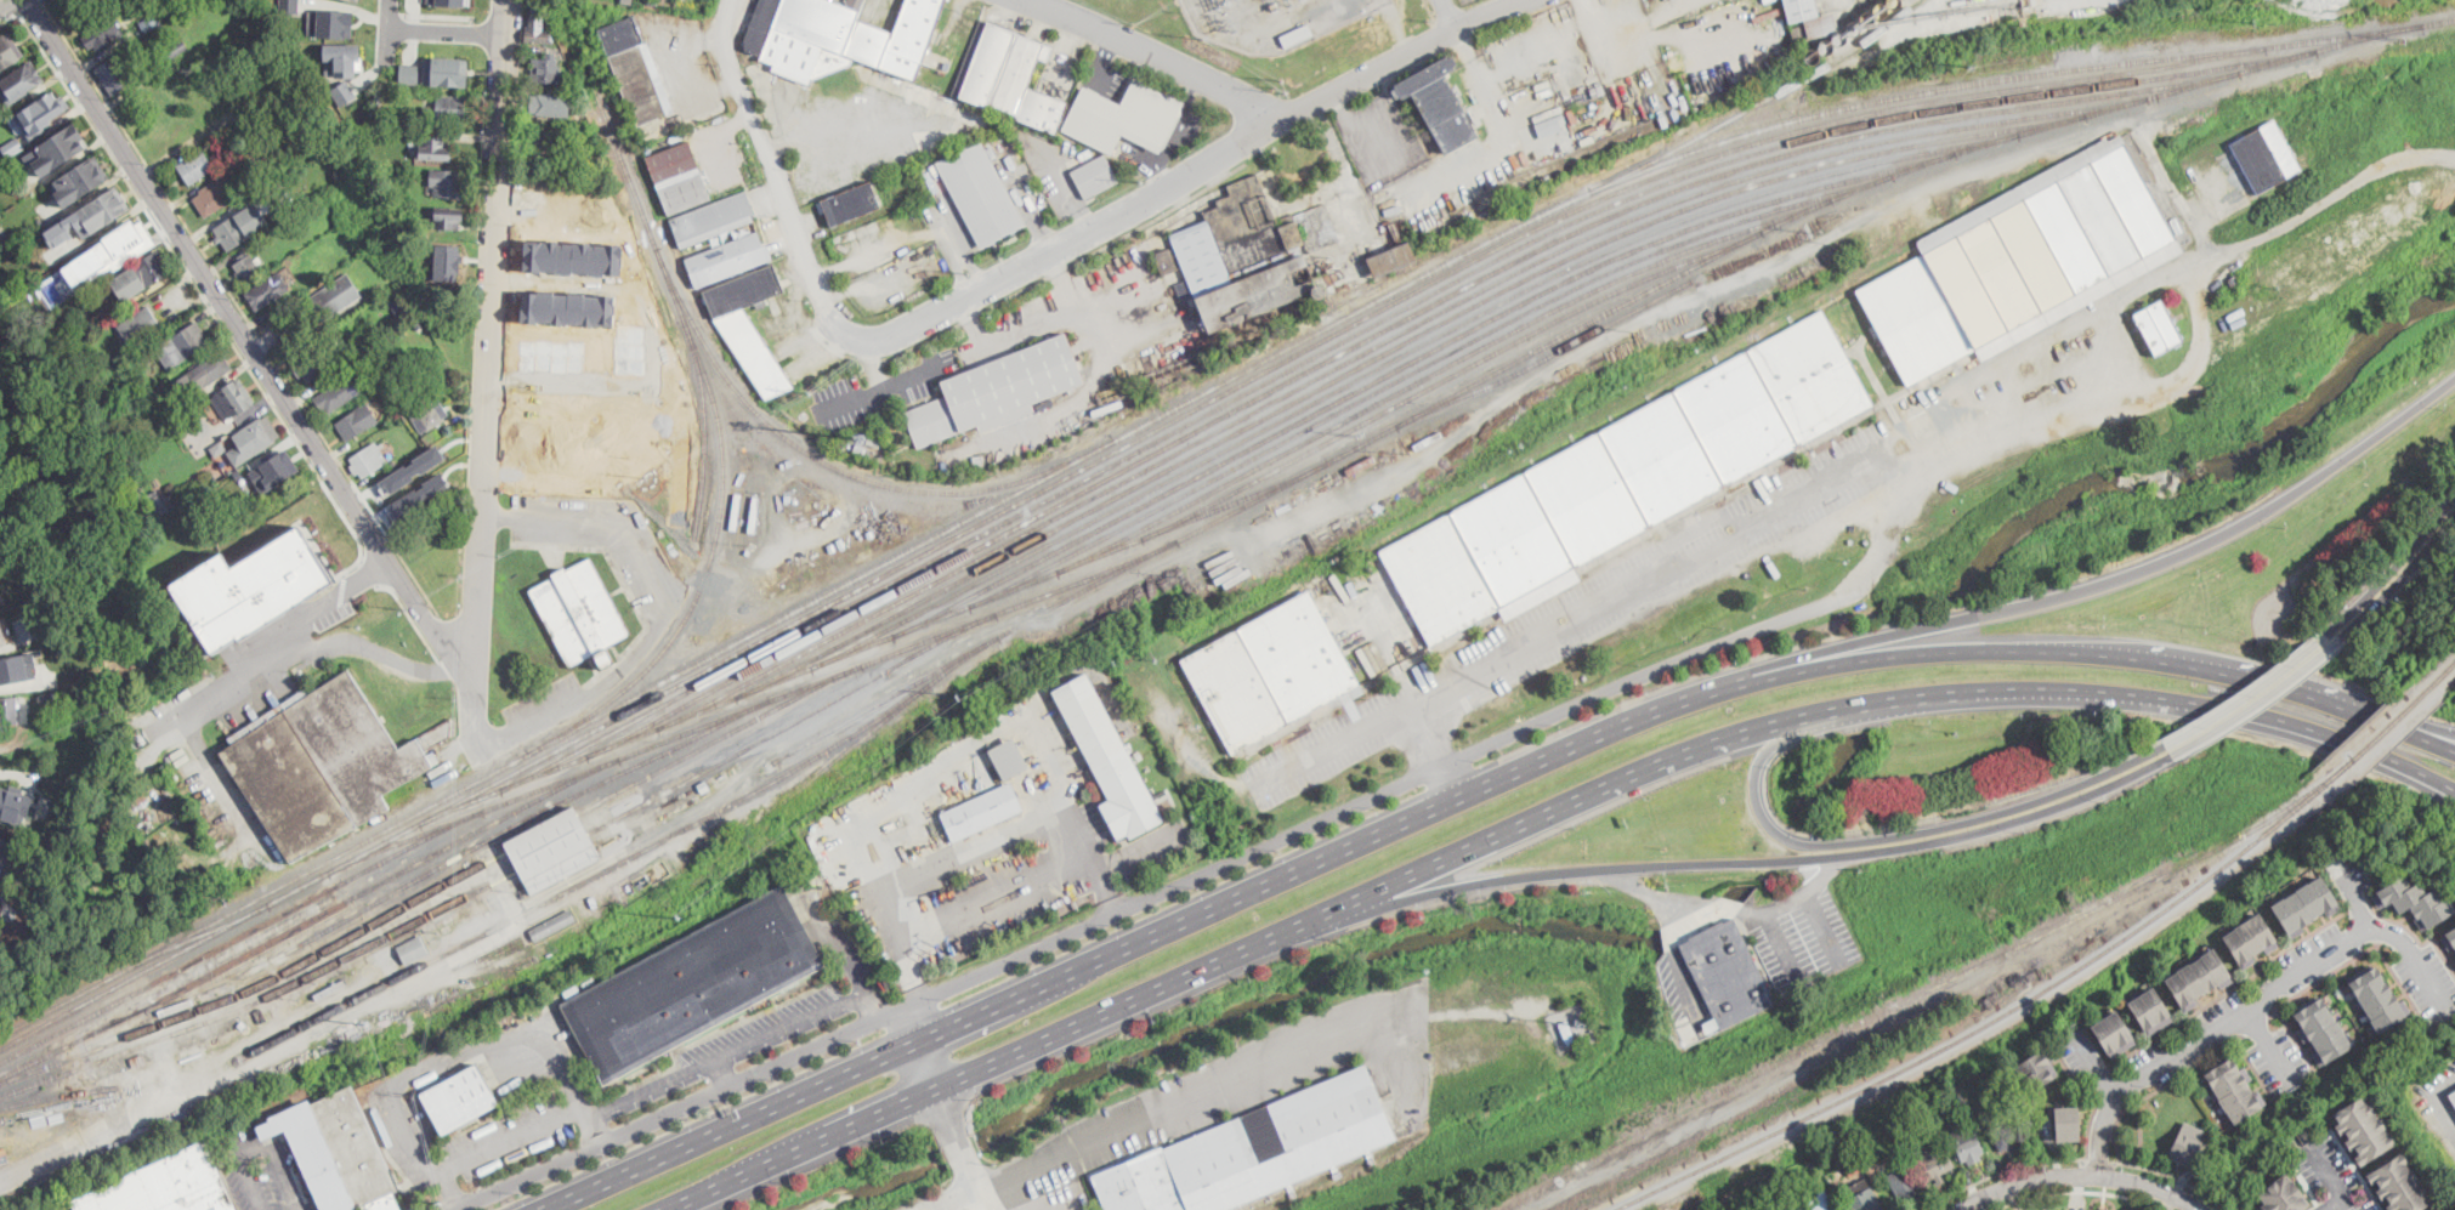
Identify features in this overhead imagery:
road: (41, 0)
building: (357, 0)
building: (110, 1)
building: (448, 1)
building: (628, 1)
building: (653, 1)
building: (854, 4)
road: (8, 5)
building: (289, 5)
road: (16, 6)
road: (30, 7)
building: (97, 11)
road: (1430, 11)
building: (2022, 12)
road: (1451, 13)
road: (437, 15)
building: (87, 16)
road: (10, 21)
building: (151, 22)
building: (330, 23)
building: (760, 24)
building: (1827, 24)
building: (538, 29)
road: (386, 30)
road: (447, 30)
building: (103, 33)
building: (1295, 35)
building: (911, 36)
building: (809, 38)
building: (867, 41)
building: (181, 47)
building: (7, 53)
building: (342, 58)
road: (1101, 59)
building: (987, 63)
building: (546, 68)
building: (216, 69)
building: (446, 70)
building: (119, 72)
building: (636, 72)
building: (410, 73)
building: (1017, 73)
building: (19, 80)
building: (344, 91)
building: (406, 93)
building: (379, 96)
railway: (1768, 101)
building: (300, 103)
building: (1439, 103)
building: (548, 106)
building: (447, 108)
building: (1042, 109)
building: (42, 112)
building: (1123, 115)
road: (1275, 117)
building: (331, 123)
building: (376, 129)
road: (1351, 130)
road: (1502, 132)
building: (256, 138)
building: (316, 140)
building: (546, 142)
building: (341, 144)
building: (283, 147)
building: (12, 148)
building: (56, 148)
building: (433, 148)
building: (2266, 157)
road: (764, 159)
building: (2042, 161)
building: (195, 167)
building: (259, 174)
building: (1095, 176)
building: (679, 178)
building: (80, 180)
building: (447, 182)
road: (1067, 183)
building: (19, 188)
building: (980, 193)
building: (211, 199)
building: (855, 201)
building: (1941, 208)
building: (89, 216)
building: (447, 217)
building: (711, 221)
building: (240, 225)
road: (168, 242)
road: (1056, 244)
road: (954, 249)
road: (877, 251)
building: (109, 252)
building: (1248, 255)
building: (1393, 259)
building: (726, 260)
building: (447, 261)
building: (1166, 261)
building: (2022, 262)
building: (246, 267)
building: (140, 274)
building: (2233, 280)
road: (1028, 284)
building: (267, 291)
building: (335, 297)
building: (401, 305)
road: (2120, 308)
road: (242, 309)
road: (1088, 316)
building: (93, 320)
building: (749, 325)
building: (140, 326)
building: (2159, 328)
railway: (1366, 330)
road: (1008, 336)
railway: (1368, 340)
road: (250, 342)
railway: (1576, 342)
building: (182, 346)
railway: (1544, 350)
building: (347, 351)
railway: (1380, 357)
railway: (1355, 359)
road: (872, 360)
railway: (1396, 360)
building: (419, 364)
building: (447, 364)
building: (312, 365)
railway: (1406, 367)
road: (488, 371)
railway: (1416, 374)
building: (202, 376)
railway: (1430, 376)
railway: (1440, 384)
road: (878, 387)
building: (997, 391)
building: (336, 393)
building: (231, 399)
railway: (1184, 407)
building: (429, 416)
building: (182, 420)
building: (356, 420)
railway: (705, 426)
building: (101, 433)
building: (431, 434)
railway: (722, 436)
building: (255, 437)
building: (1428, 439)
building: (873, 442)
building: (219, 449)
building: (860, 449)
building: (114, 460)
building: (368, 460)
building: (977, 460)
building: (1361, 464)
building: (942, 465)
railway: (1094, 465)
building: (278, 467)
railway: (838, 467)
building: (412, 468)
building: (244, 470)
building: (137, 471)
building: (1627, 478)
building: (127, 485)
building: (416, 494)
building: (159, 504)
building: (447, 505)
building: (736, 511)
building: (753, 515)
building: (415, 535)
parking lot: (605, 541)
building: (747, 552)
road: (2394, 569)
road: (2406, 573)
road: (2103, 585)
building: (251, 587)
parking lot: (1583, 608)
road: (664, 610)
building: (580, 613)
road: (1577, 615)
road: (1754, 630)
building: (2, 637)
road: (256, 643)
railway: (871, 646)
building: (17, 668)
building: (1270, 672)
railway: (2442, 674)
railway: (868, 682)
road: (2268, 697)
building: (50, 698)
road: (2245, 699)
railway: (884, 703)
parking lot: (546, 705)
railway: (784, 705)
building: (8, 710)
road: (1662, 715)
road: (2382, 716)
railway: (2372, 740)
road: (1434, 755)
building: (1008, 757)
building: (1109, 760)
building: (323, 763)
road: (1643, 776)
railway: (2326, 780)
road: (2426, 780)
railway: (552, 785)
building: (704, 786)
road: (2426, 786)
building: (4, 799)
railway: (555, 808)
building: (981, 813)
railway: (543, 835)
road: (161, 836)
road: (1883, 839)
road: (981, 842)
parking lot: (1152, 845)
road: (1139, 847)
building: (552, 850)
building: (5, 851)
railway: (550, 857)
building: (67, 859)
road: (1748, 862)
railway: (585, 882)
building: (46, 887)
building: (0, 892)
road: (1651, 894)
road: (2353, 896)
road: (1791, 898)
building: (2415, 899)
building: (494, 902)
building: (593, 903)
building: (2306, 904)
road: (1712, 913)
building: (552, 925)
road: (1822, 926)
railway: (304, 927)
parking lot: (1802, 937)
building: (2449, 937)
road: (81, 938)
railway: (199, 938)
railway: (239, 938)
building: (2250, 938)
road: (1784, 942)
building: (413, 950)
road: (1680, 964)
building: (1728, 973)
road: (2321, 976)
building: (2198, 977)
building: (693, 985)
road: (2402, 985)
road: (2230, 988)
railway: (259, 990)
parking lot: (1684, 995)
building: (2377, 996)
railway: (1909, 999)
railway: (260, 1004)
road: (2255, 1004)
road: (872, 1005)
building: (176, 1007)
building: (2150, 1009)
road: (890, 1015)
building: (260, 1016)
road: (2257, 1024)
building: (240, 1026)
road: (909, 1028)
railway: (1983, 1028)
building: (2323, 1029)
building: (1566, 1033)
building: (2114, 1033)
road: (765, 1034)
road: (2294, 1034)
parking lot: (736, 1044)
road: (2269, 1046)
road: (455, 1051)
building: (138, 1061)
road: (2091, 1066)
building: (2036, 1068)
road: (928, 1069)
road: (2098, 1070)
road: (724, 1072)
road: (2158, 1085)
building: (2234, 1087)
parking lot: (1236, 1091)
road: (2440, 1093)
building: (2451, 1093)
building: (460, 1098)
railway: (59, 1100)
road: (1173, 1101)
parking lot: (2438, 1101)
road: (2091, 1113)
road: (669, 1114)
building: (2066, 1123)
building: (1998, 1126)
building: (2363, 1127)
road: (736, 1129)
railway: (1569, 1130)
road: (511, 1135)
parking lot: (509, 1136)
building: (2187, 1142)
building: (1968, 1144)
road: (260, 1146)
building: (1254, 1149)
road: (804, 1151)
building: (334, 1152)
road: (2096, 1160)
building: (1934, 1163)
road: (973, 1166)
building: (1853, 1166)
building: (1873, 1172)
road: (2002, 1172)
parking lot: (2330, 1172)
parking lot: (263, 1174)
road: (2080, 1176)
road: (2173, 1176)
road: (2332, 1177)
road: (2303, 1181)
building: (1901, 1183)
building: (2399, 1183)
building: (163, 1185)
building: (1763, 1186)
road: (2079, 1189)
building: (2283, 1194)
road: (986, 1195)
building: (1864, 1197)
railway: (1266, 1200)
road: (2334, 1203)
building: (1804, 1206)
road: (2319, 1206)
building: (2103, 1208)
parking lot: (66, 1209)
building: (1833, 1209)

